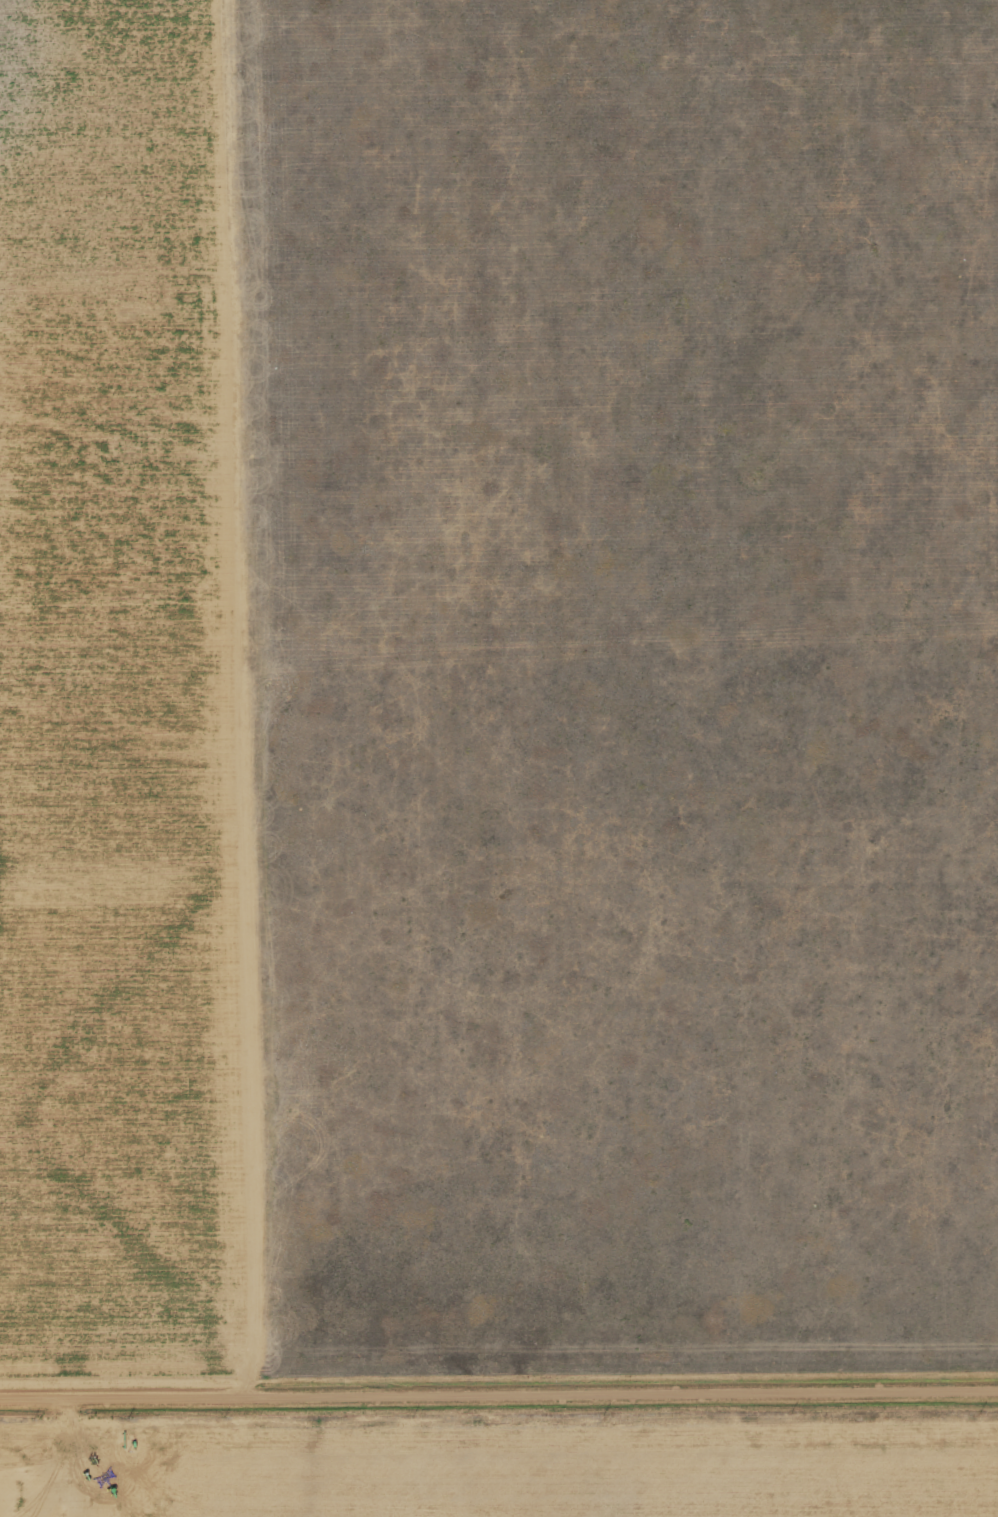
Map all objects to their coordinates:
road: (499, 1402)

